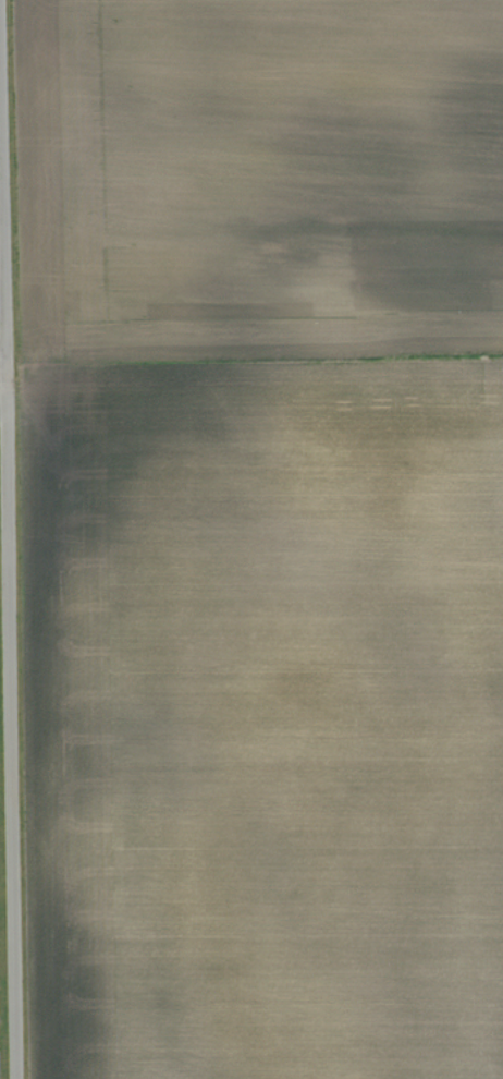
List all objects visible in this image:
road: (2, 369)
road: (8, 595)

